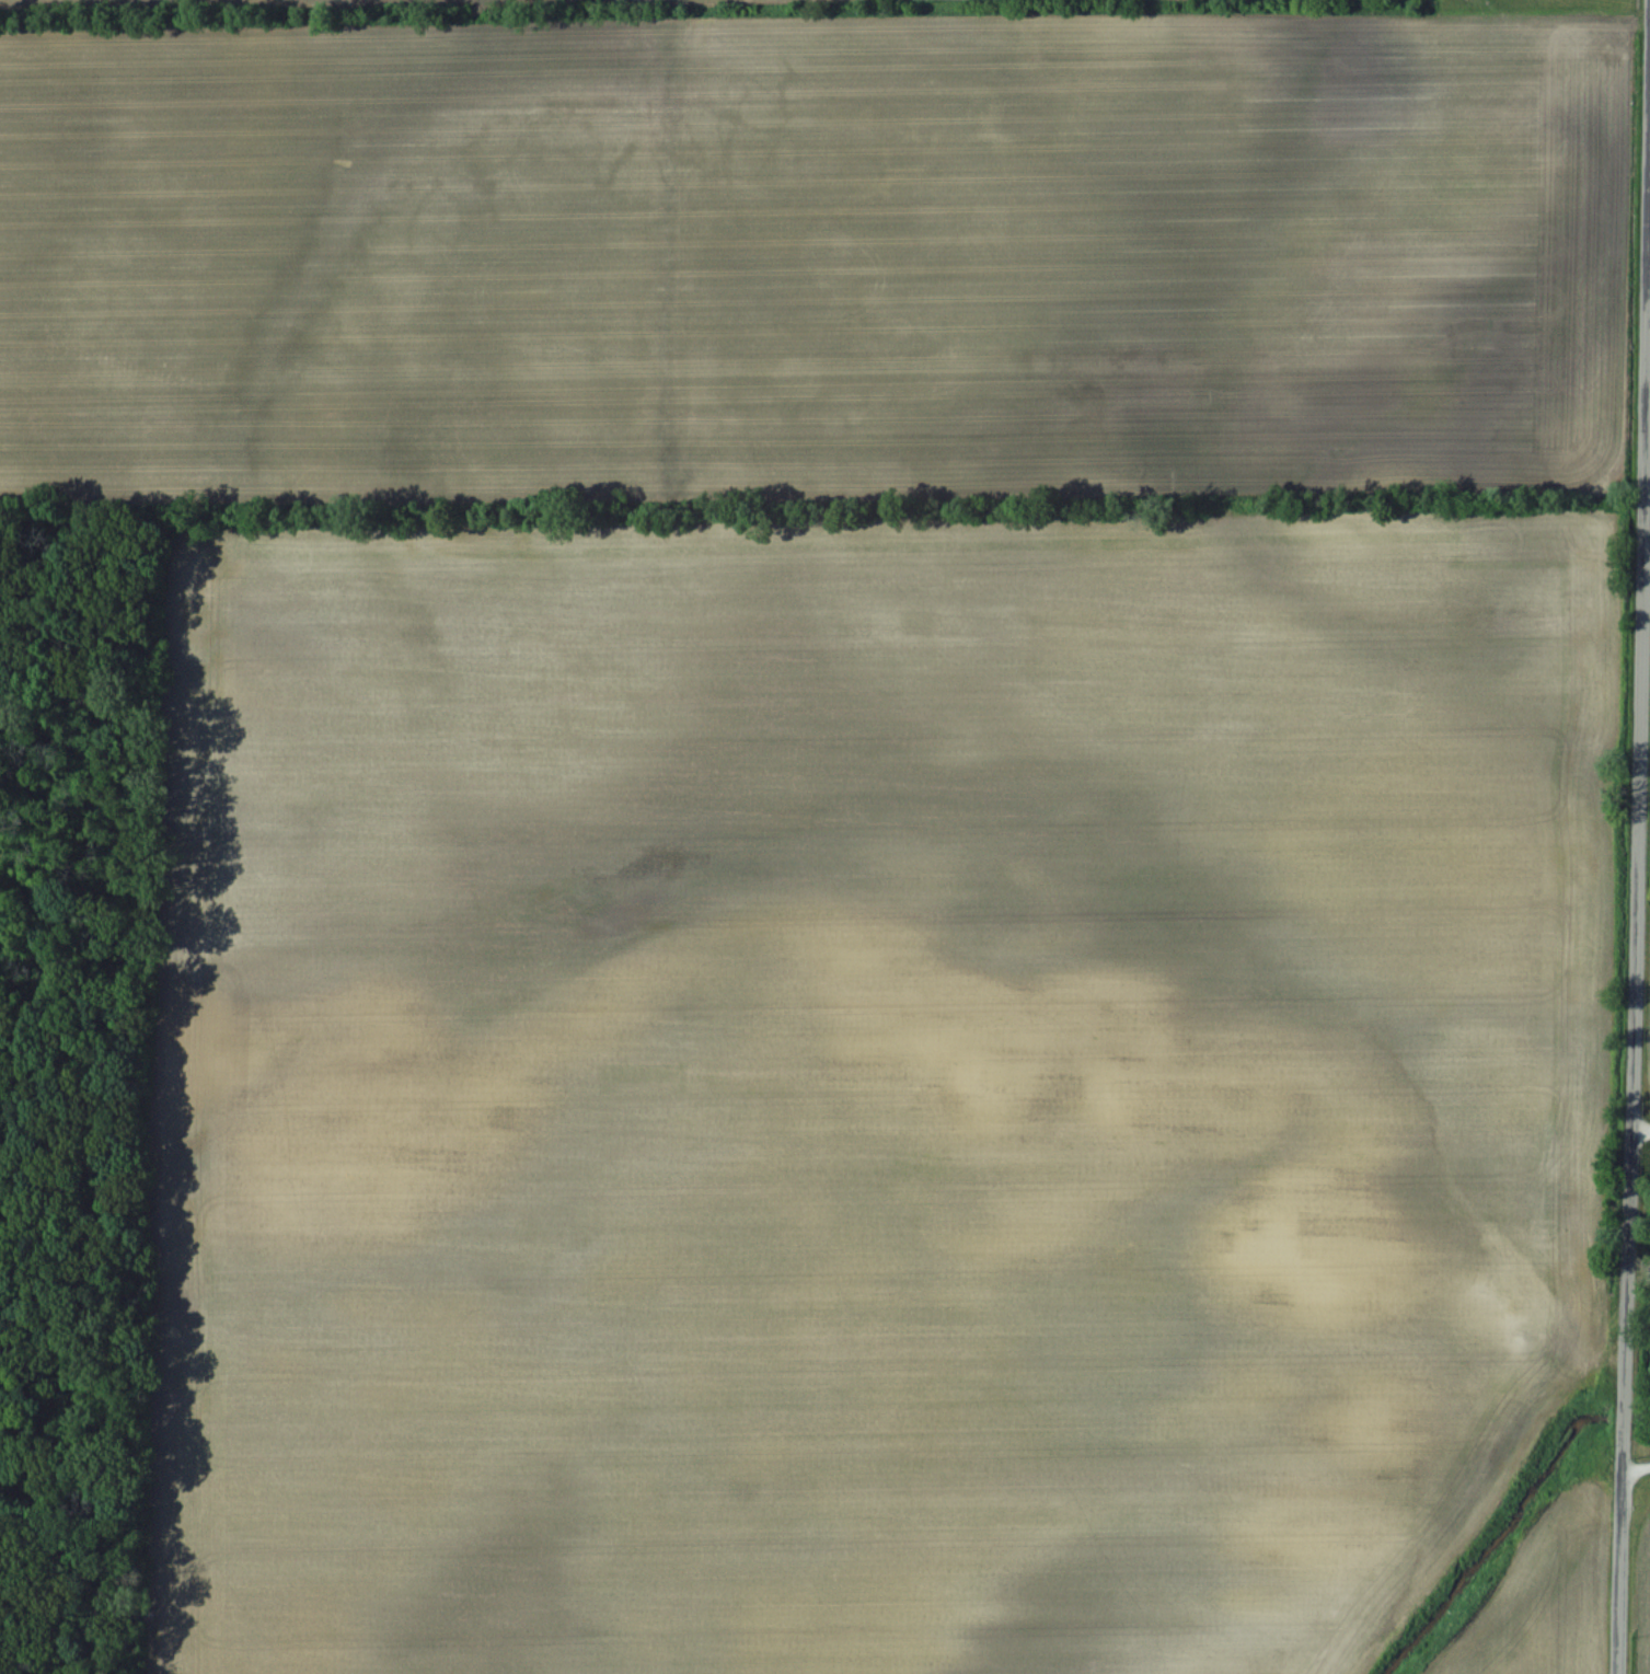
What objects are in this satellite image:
road: (1627, 836)
road: (1635, 1122)
road: (1630, 1462)

